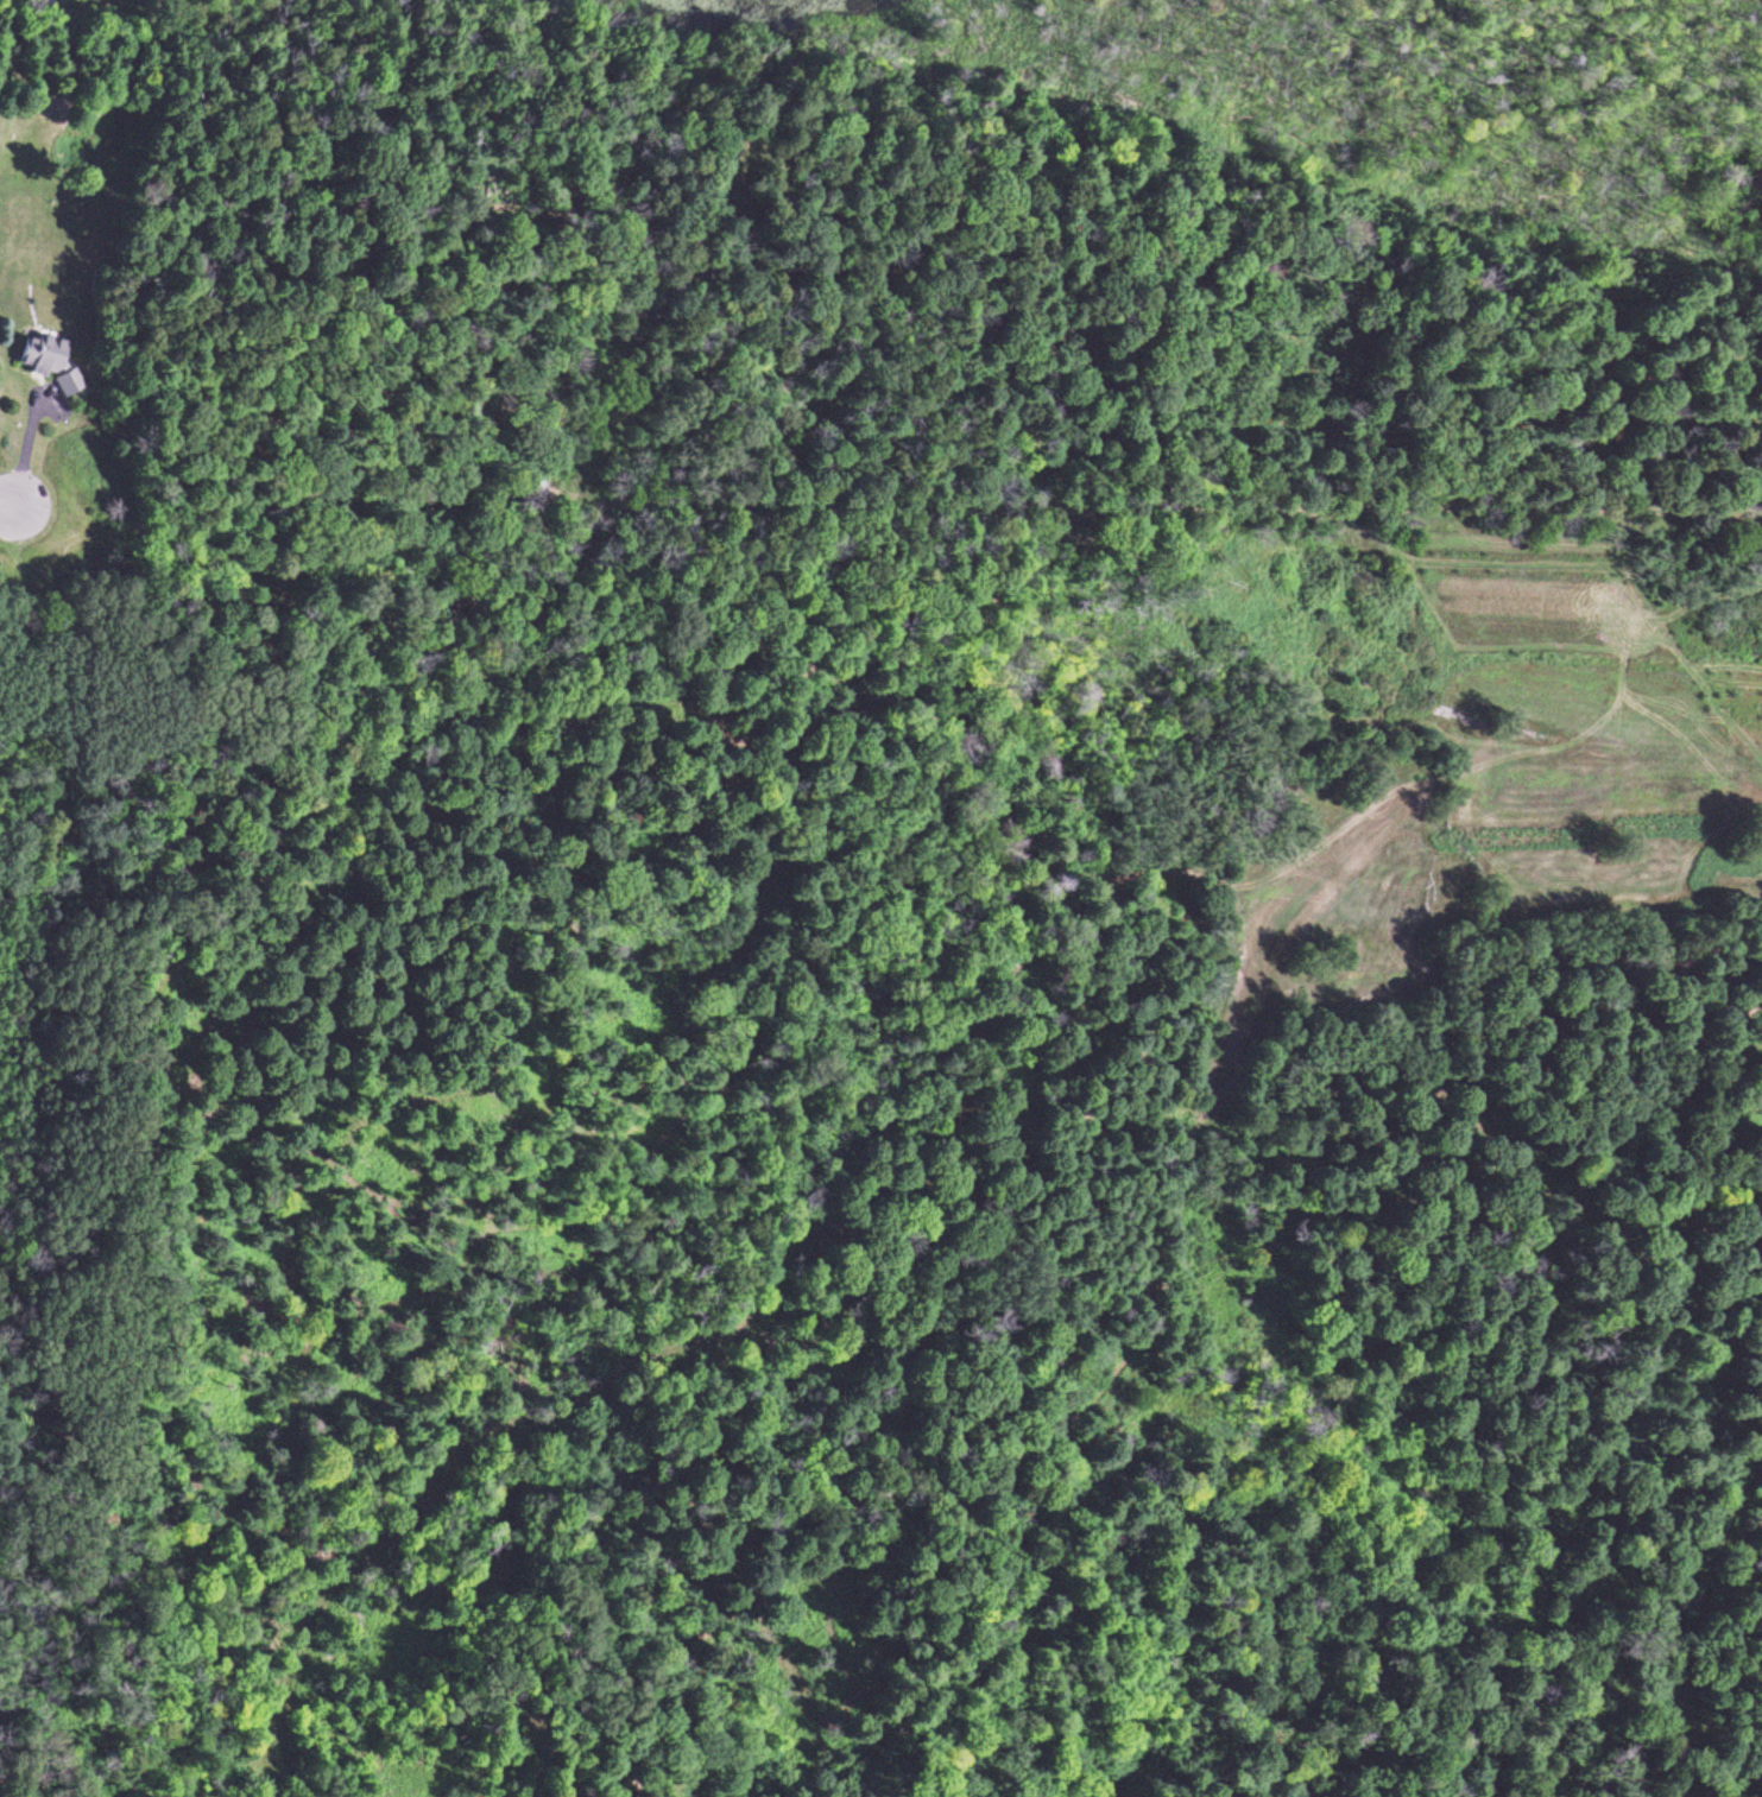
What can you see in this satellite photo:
building: (715, 153)
road: (756, 296)
building: (48, 365)
road: (1186, 500)
road: (6, 504)
road: (34, 1146)
park: (51, 1146)
road: (1003, 1150)
road: (560, 1764)

